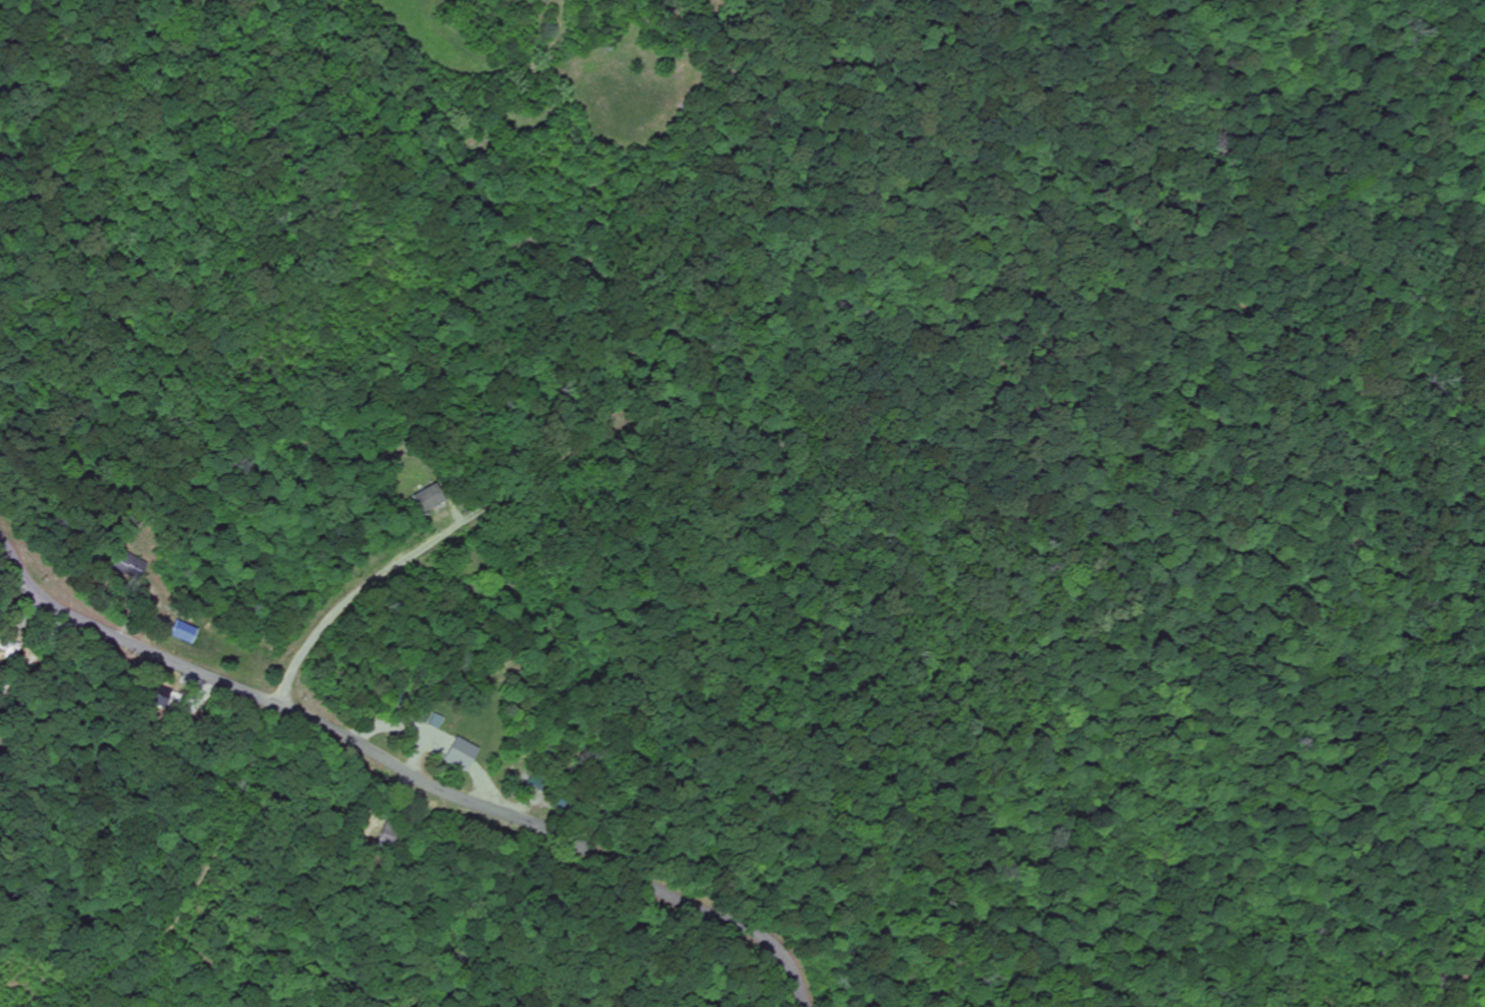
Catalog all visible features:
building: (427, 497)
building: (127, 565)
road: (351, 594)
building: (182, 630)
building: (9, 647)
building: (460, 752)
road: (408, 772)
road: (1449, 980)

